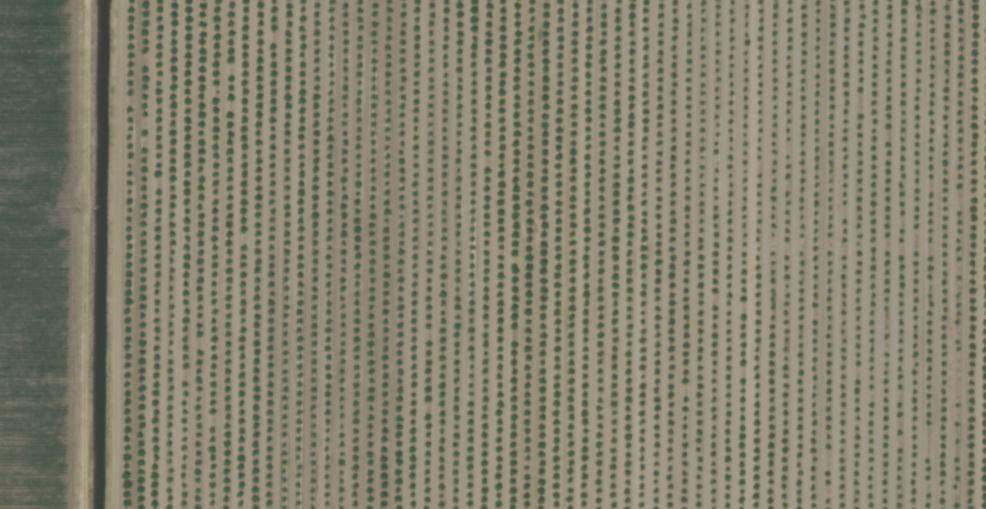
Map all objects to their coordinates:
road: (981, 254)

